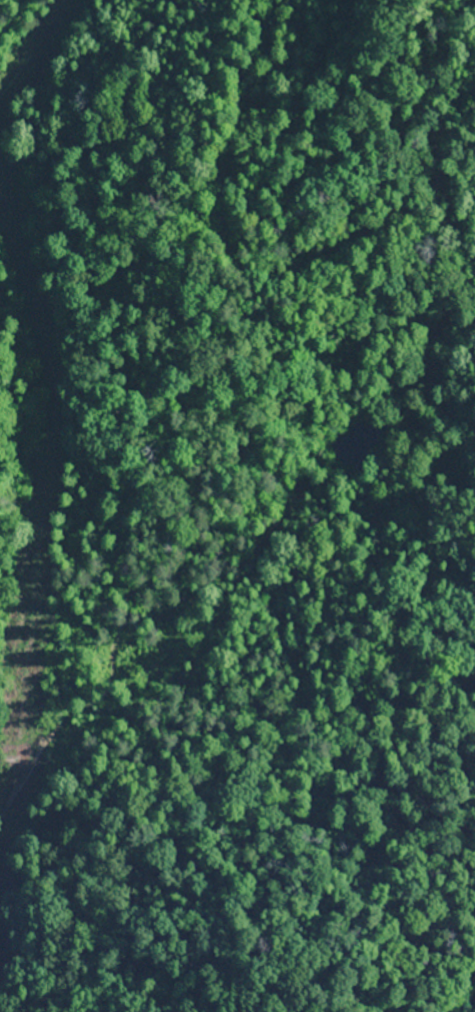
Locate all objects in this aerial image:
road: (215, 684)

